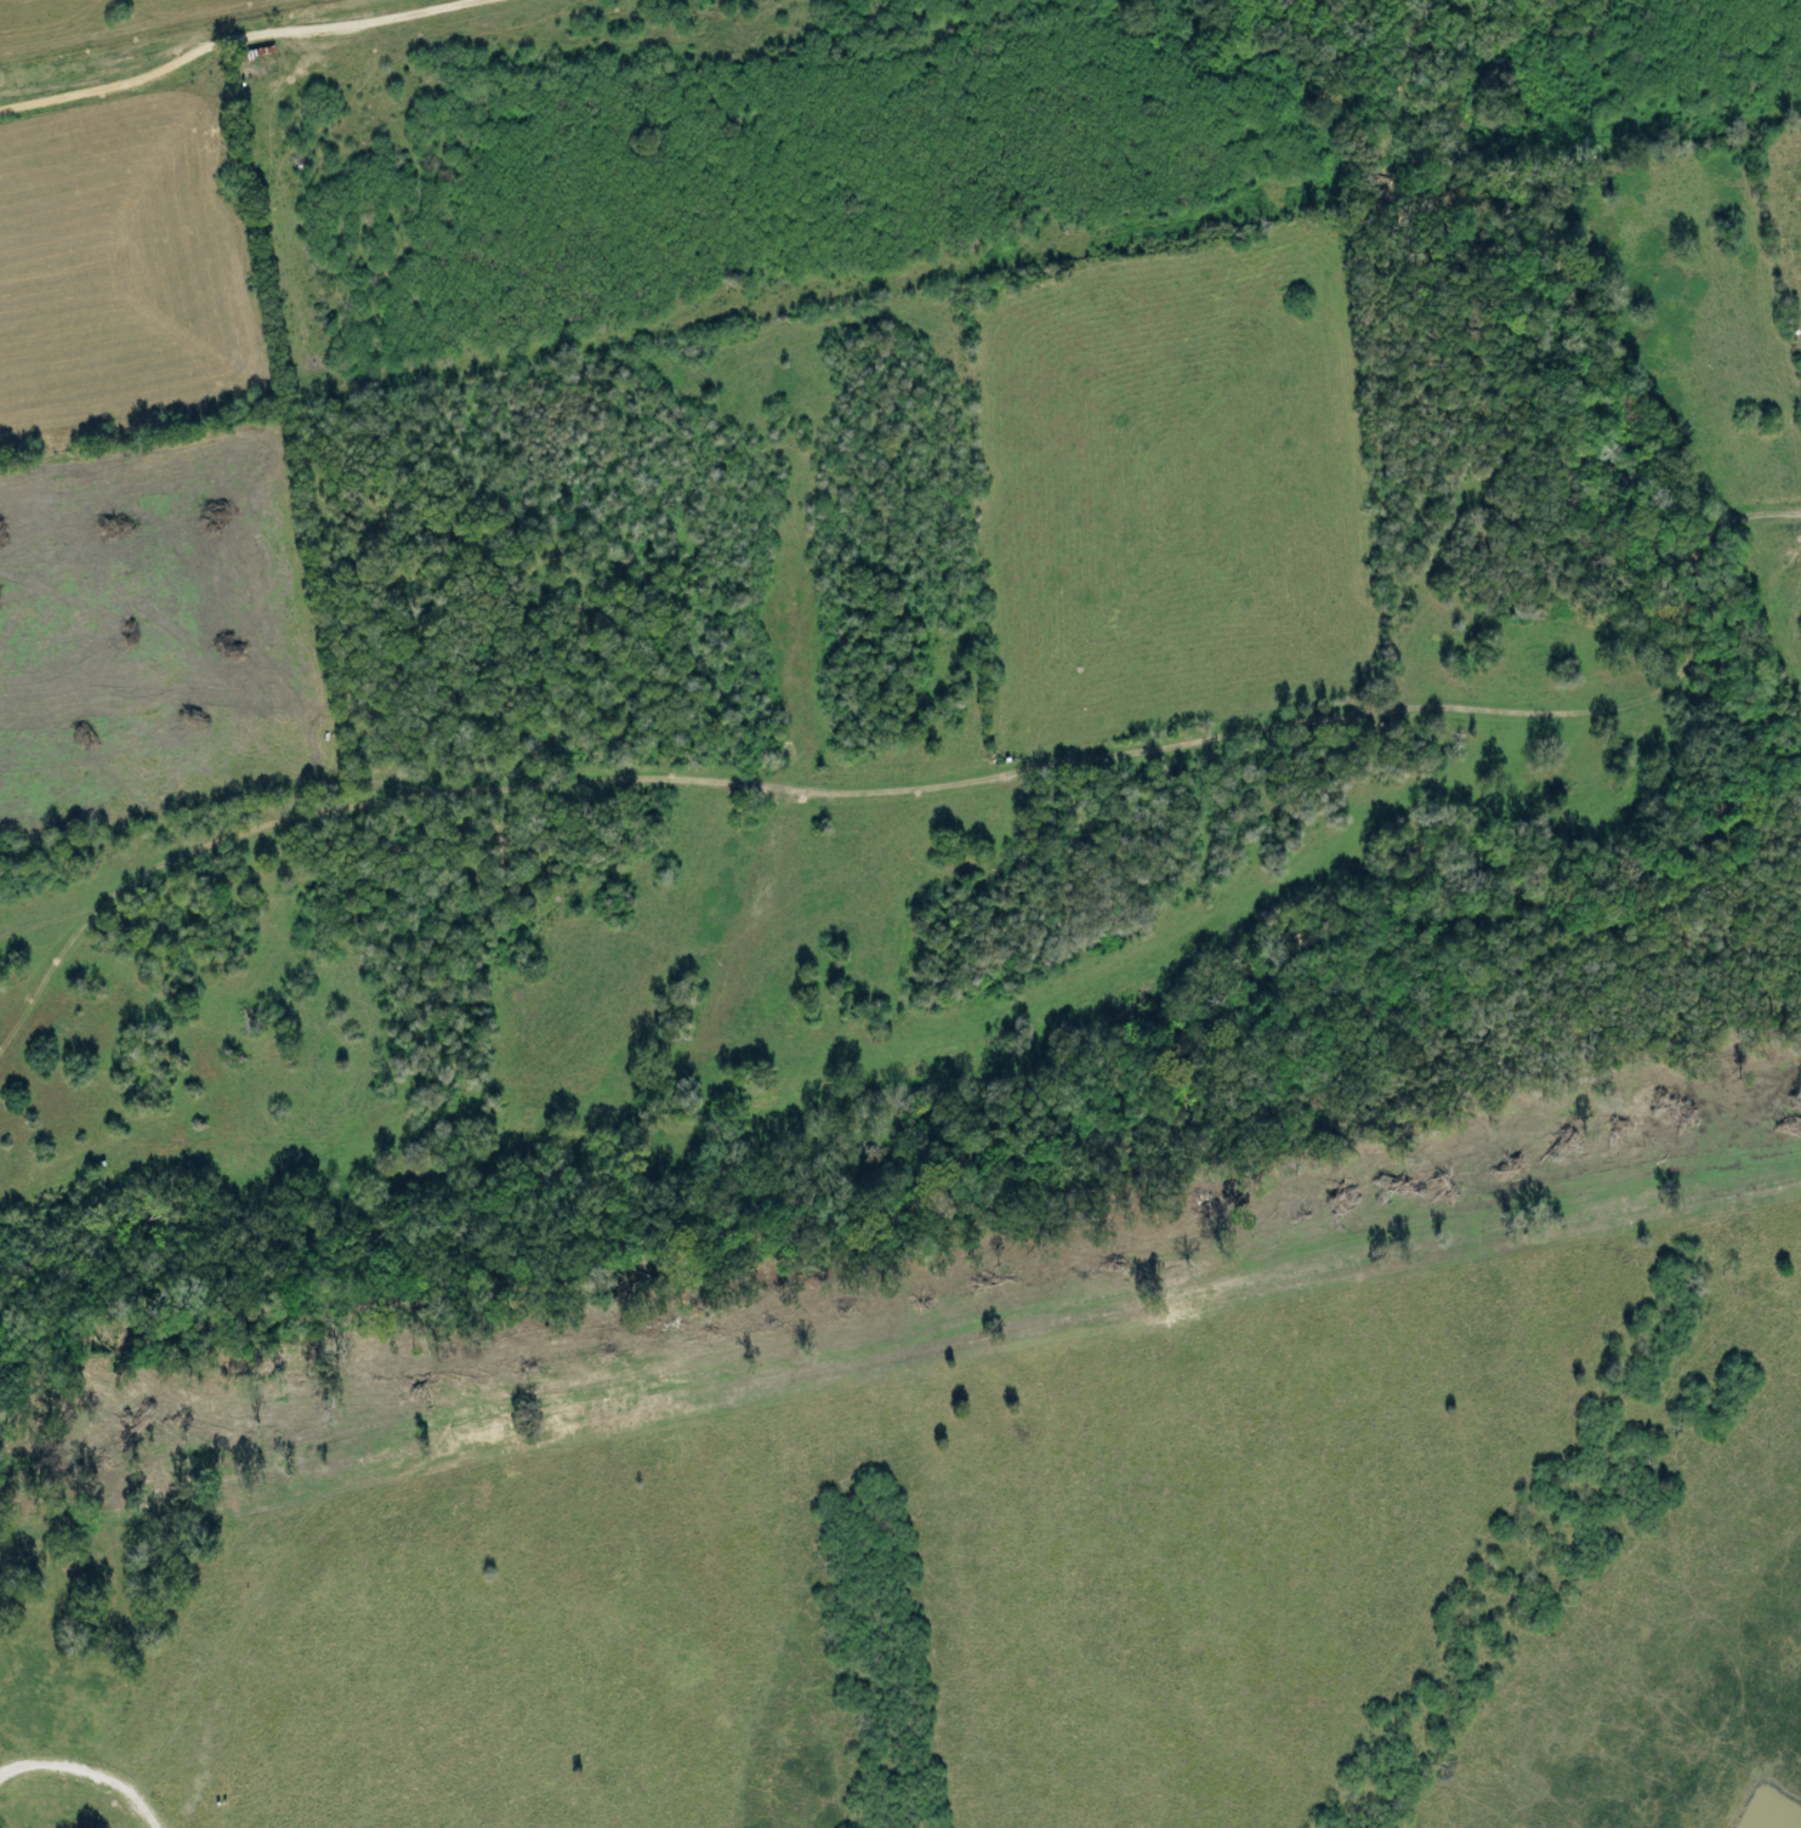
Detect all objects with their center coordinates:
road: (87, 1782)

